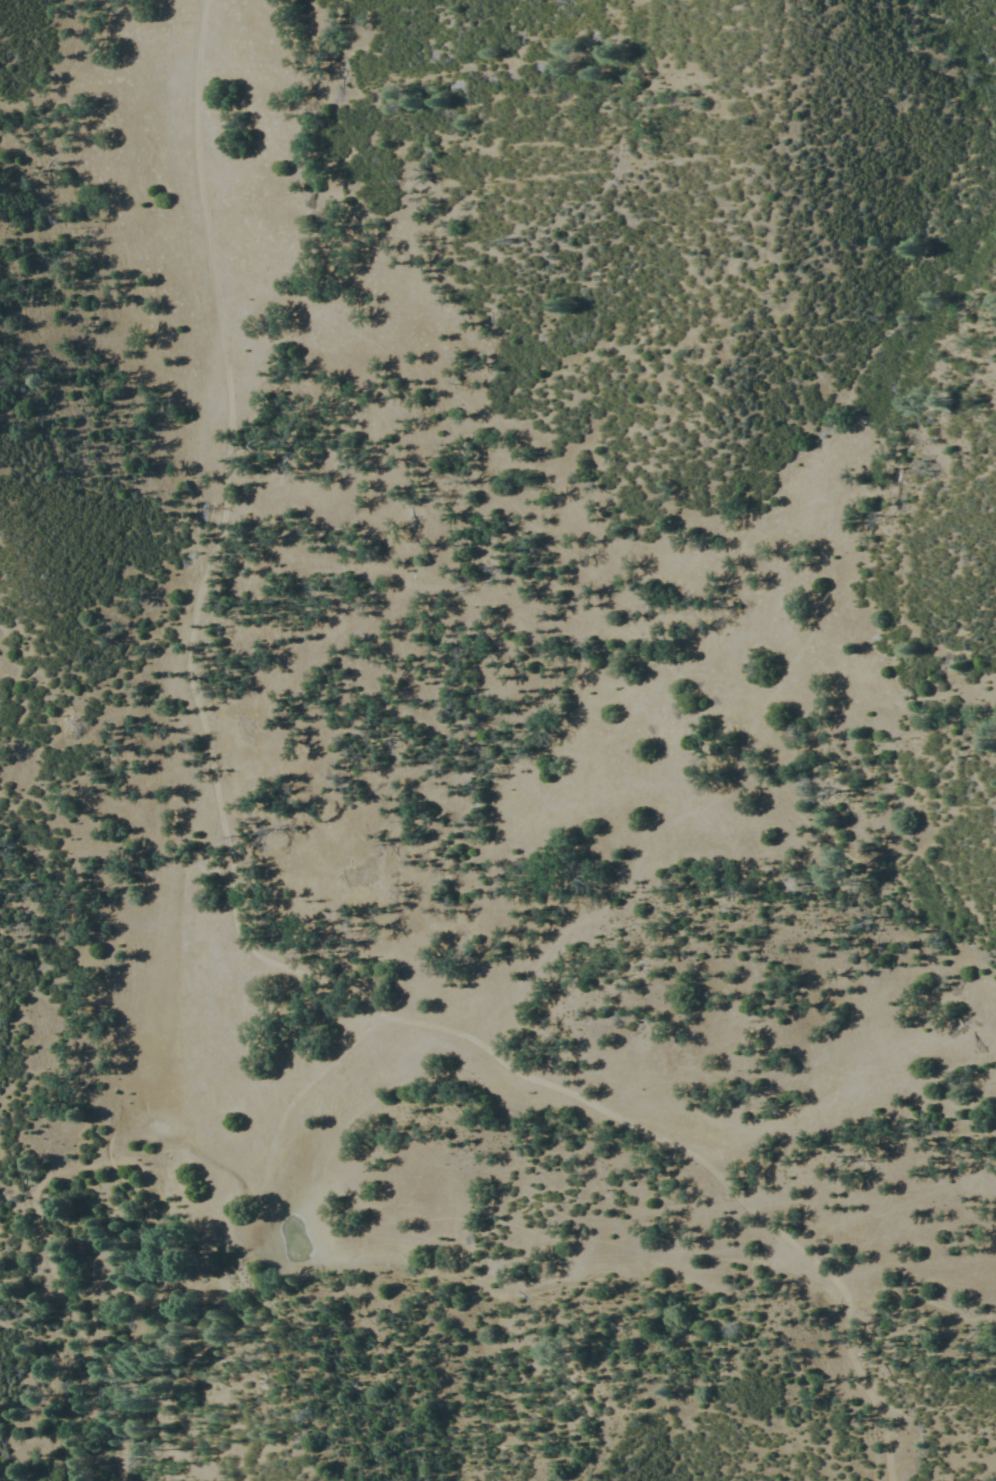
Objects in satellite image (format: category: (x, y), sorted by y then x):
road: (859, 1386)

